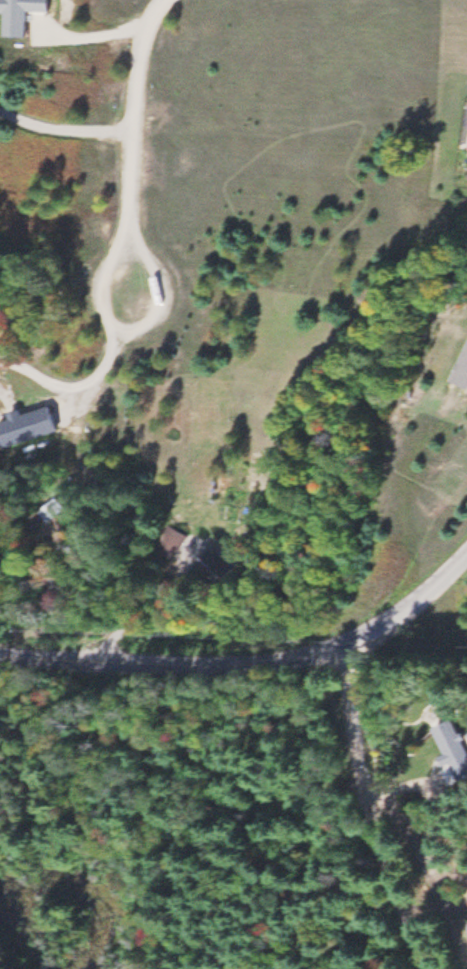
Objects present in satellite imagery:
road: (134, 121)
road: (131, 328)
building: (175, 542)
building: (221, 568)
road: (251, 661)
road: (249, 754)
road: (366, 808)

